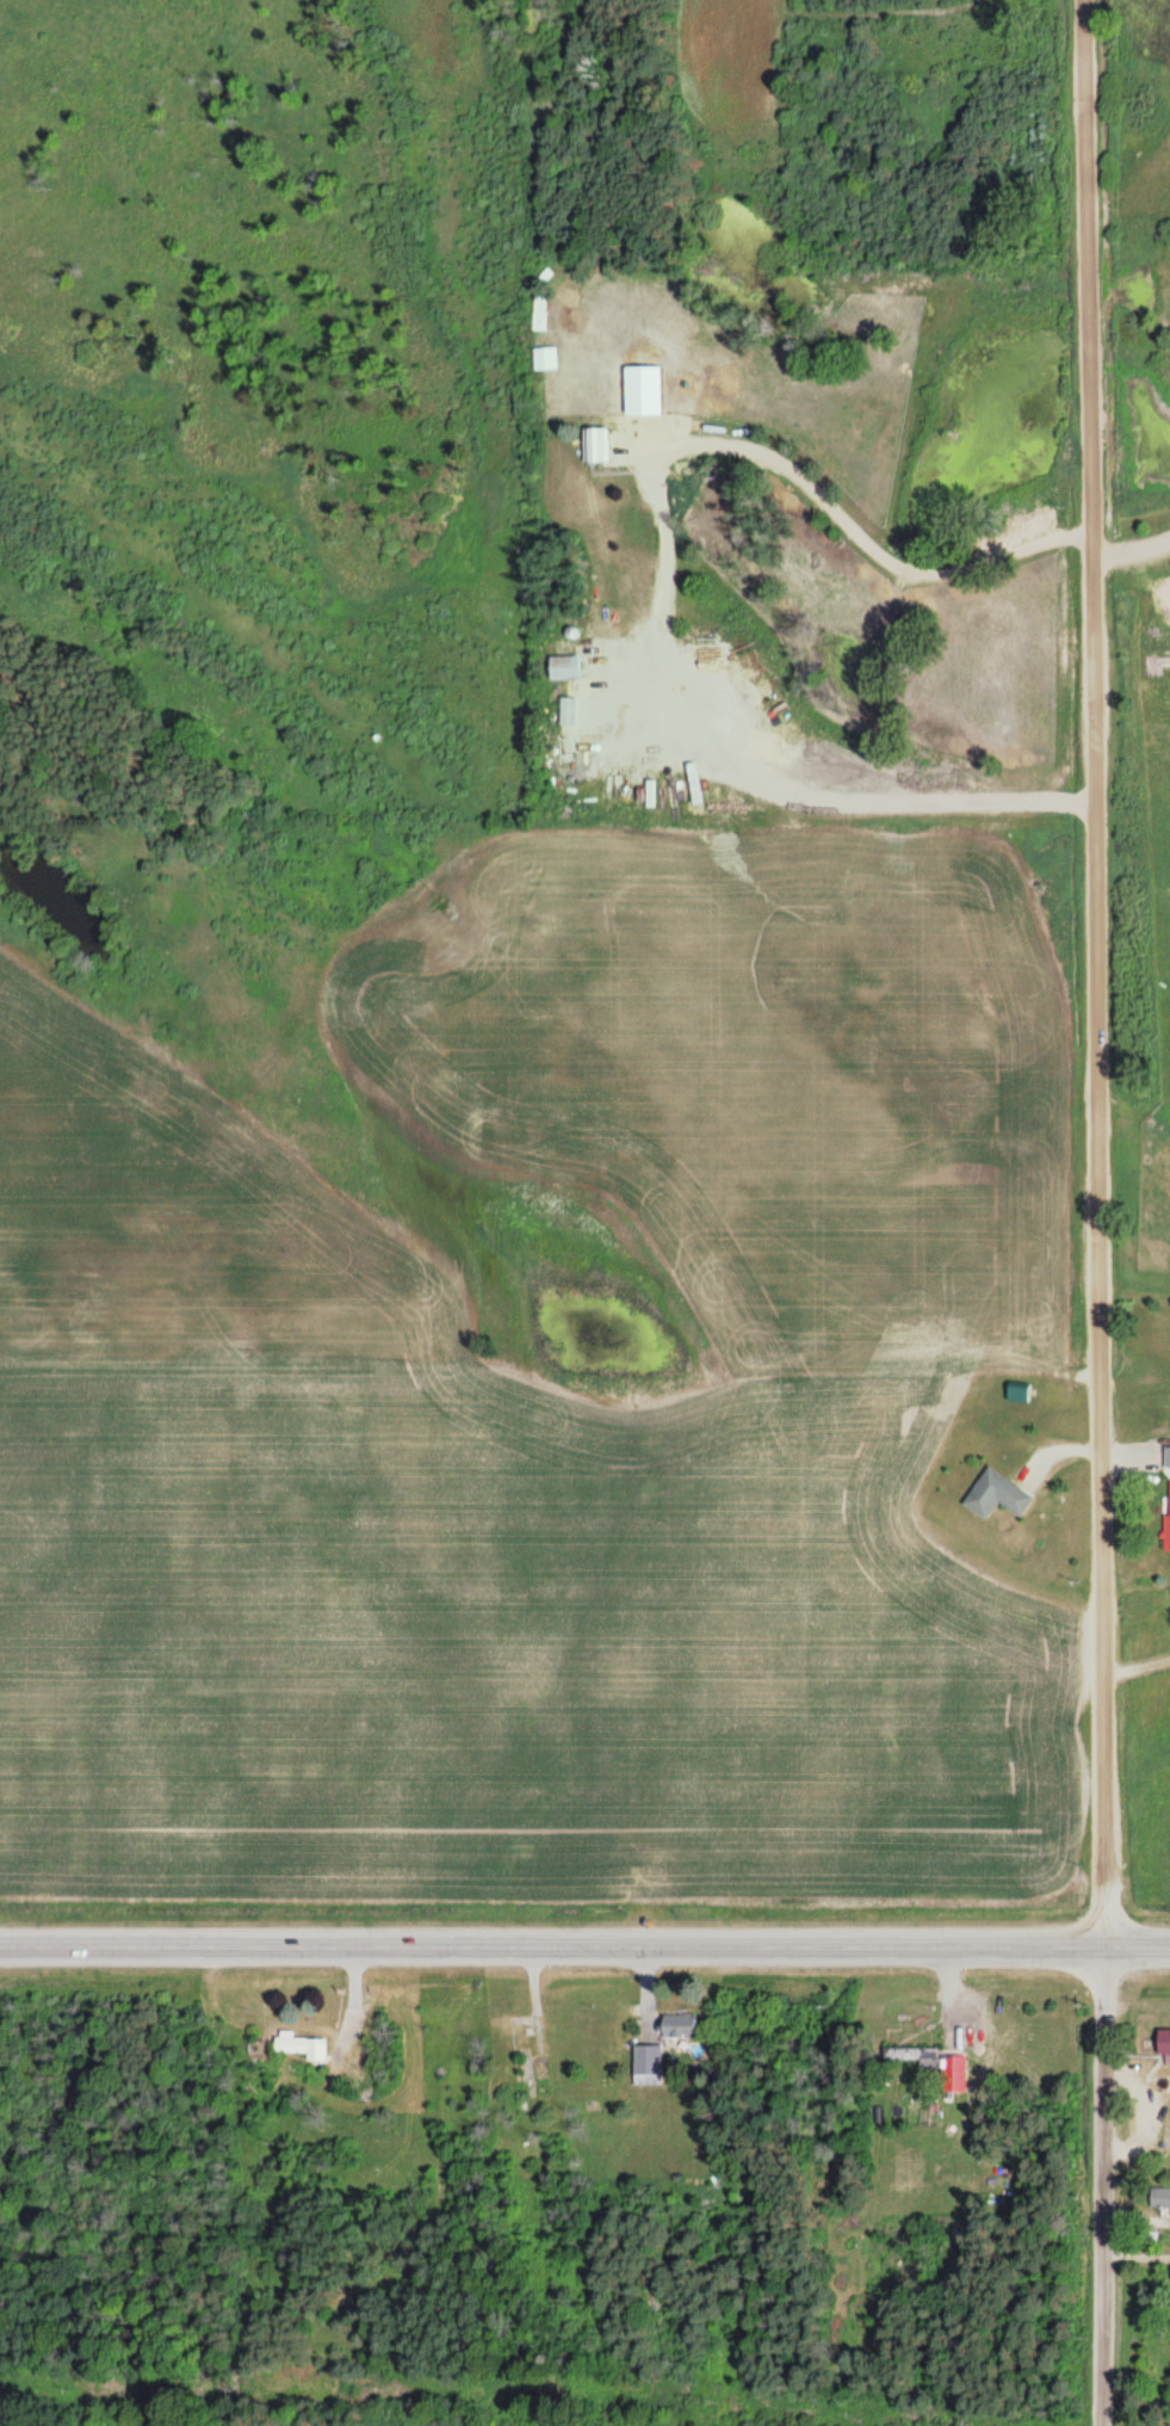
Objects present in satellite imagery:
building: (539, 311)
building: (545, 358)
building: (596, 444)
road: (664, 561)
road: (1096, 969)
building: (1168, 1457)
building: (996, 1495)
building: (1168, 1518)
road: (584, 1940)
building: (677, 2025)
building: (1163, 2039)
building: (302, 2044)
building: (648, 2064)
building: (953, 2073)
road: (1101, 2183)
building: (1159, 2197)

